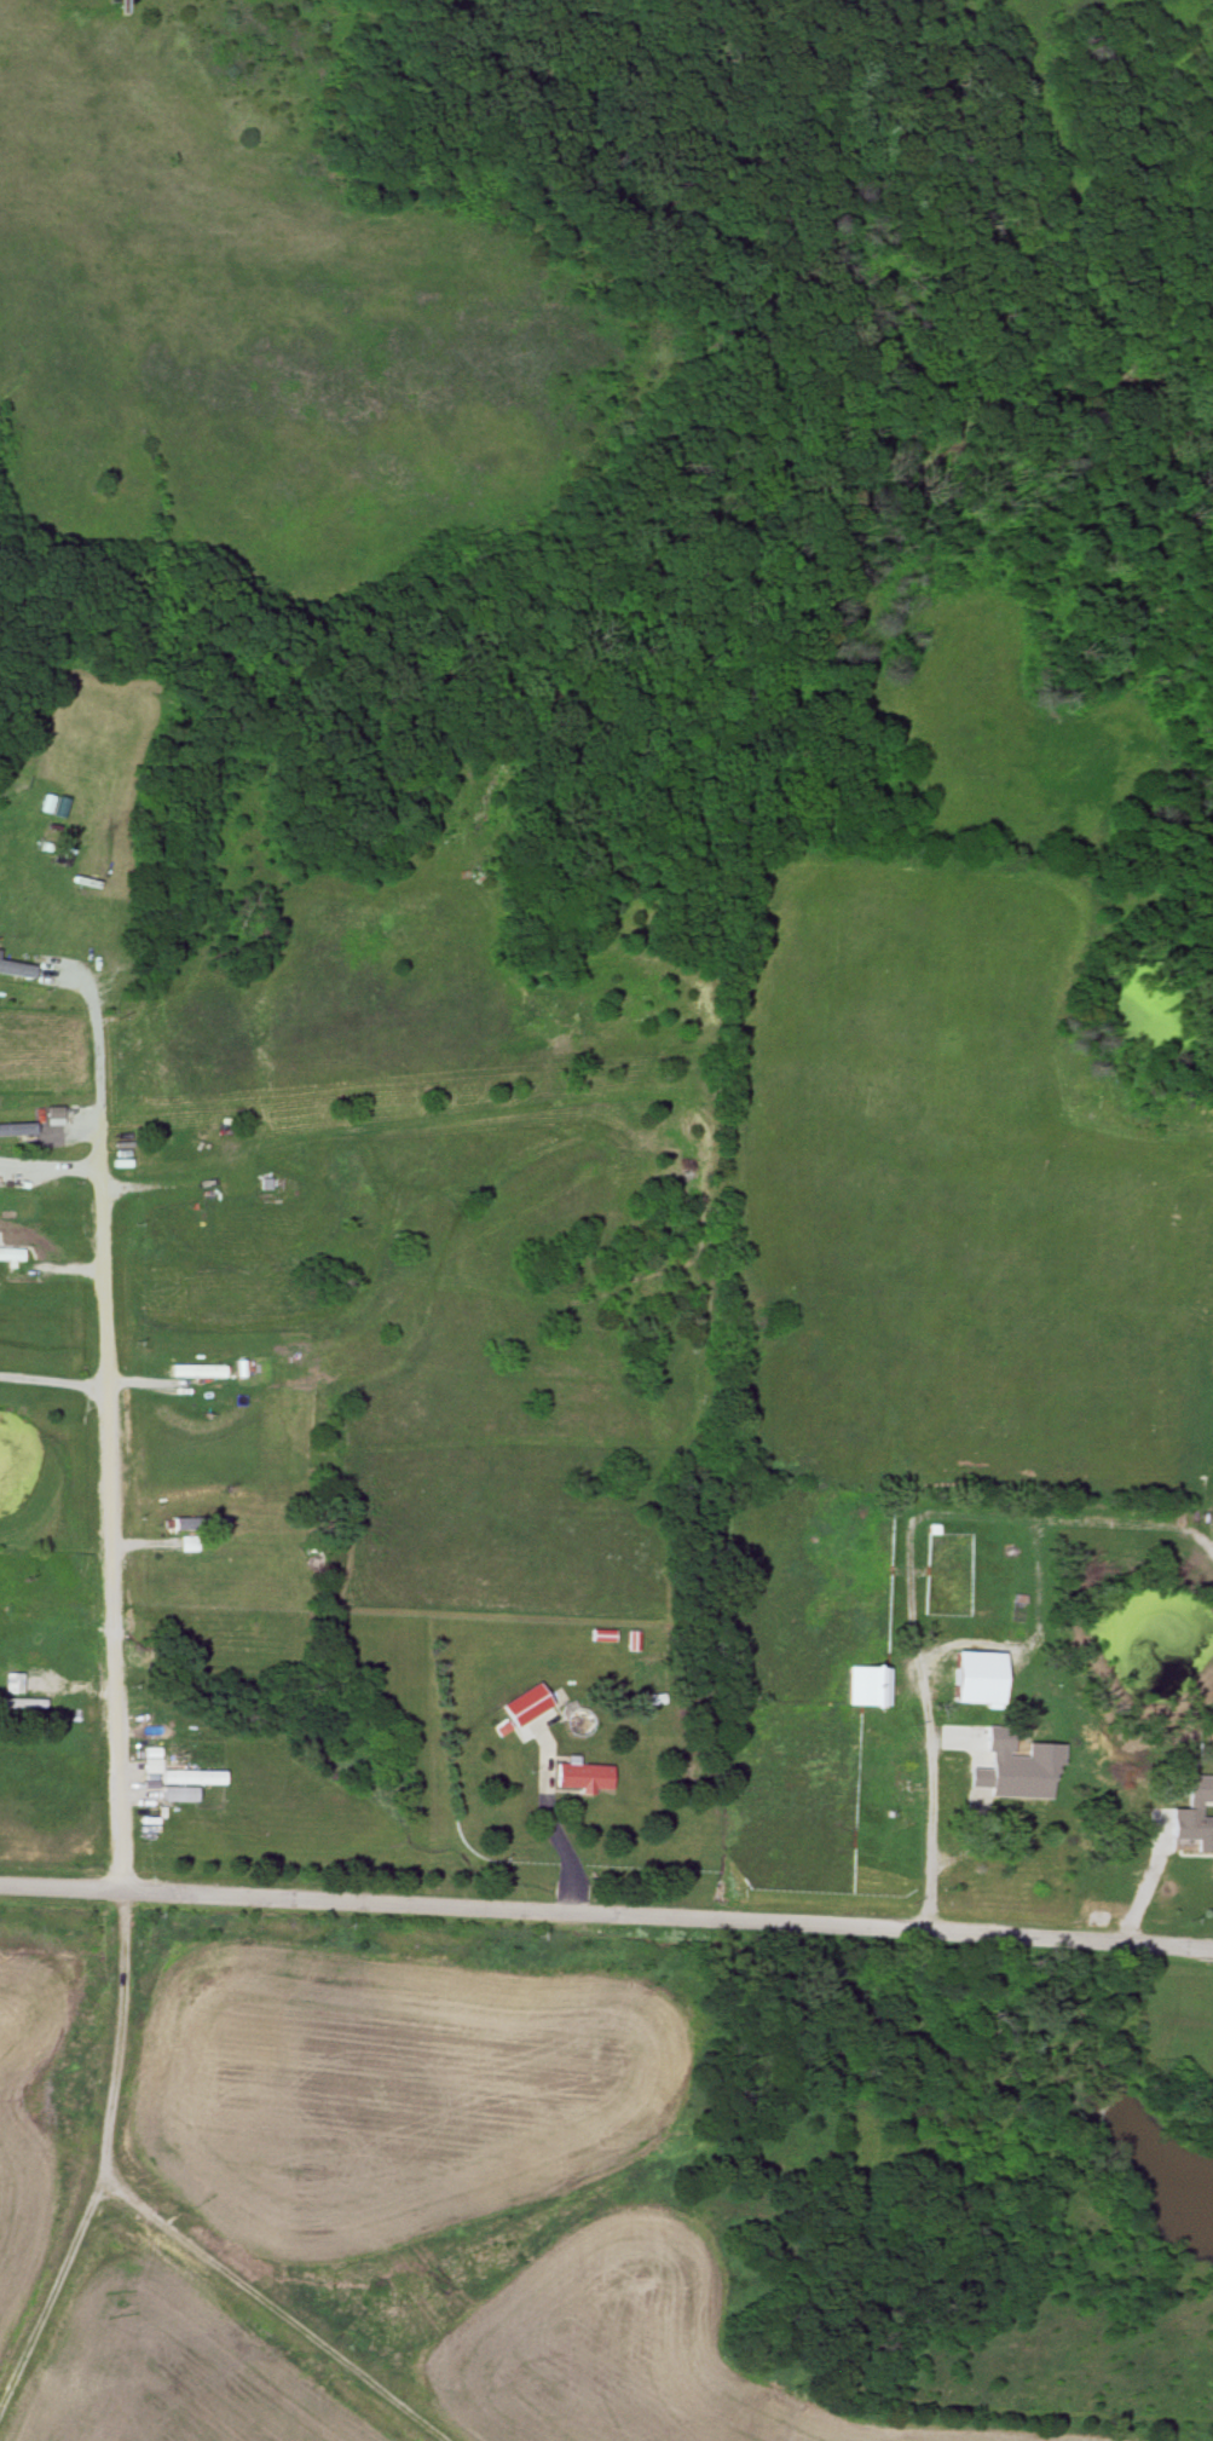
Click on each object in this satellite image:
building: (15, 968)
building: (18, 1129)
building: (204, 1213)
building: (10, 1254)
building: (198, 1372)
road: (52, 1375)
road: (105, 1403)
building: (189, 1531)
road: (990, 1644)
building: (10, 1680)
building: (866, 1687)
building: (965, 1695)
building: (18, 1704)
building: (520, 1709)
building: (184, 1777)
building: (978, 1777)
building: (579, 1778)
road: (548, 1823)
building: (1205, 1835)
road: (606, 1911)

